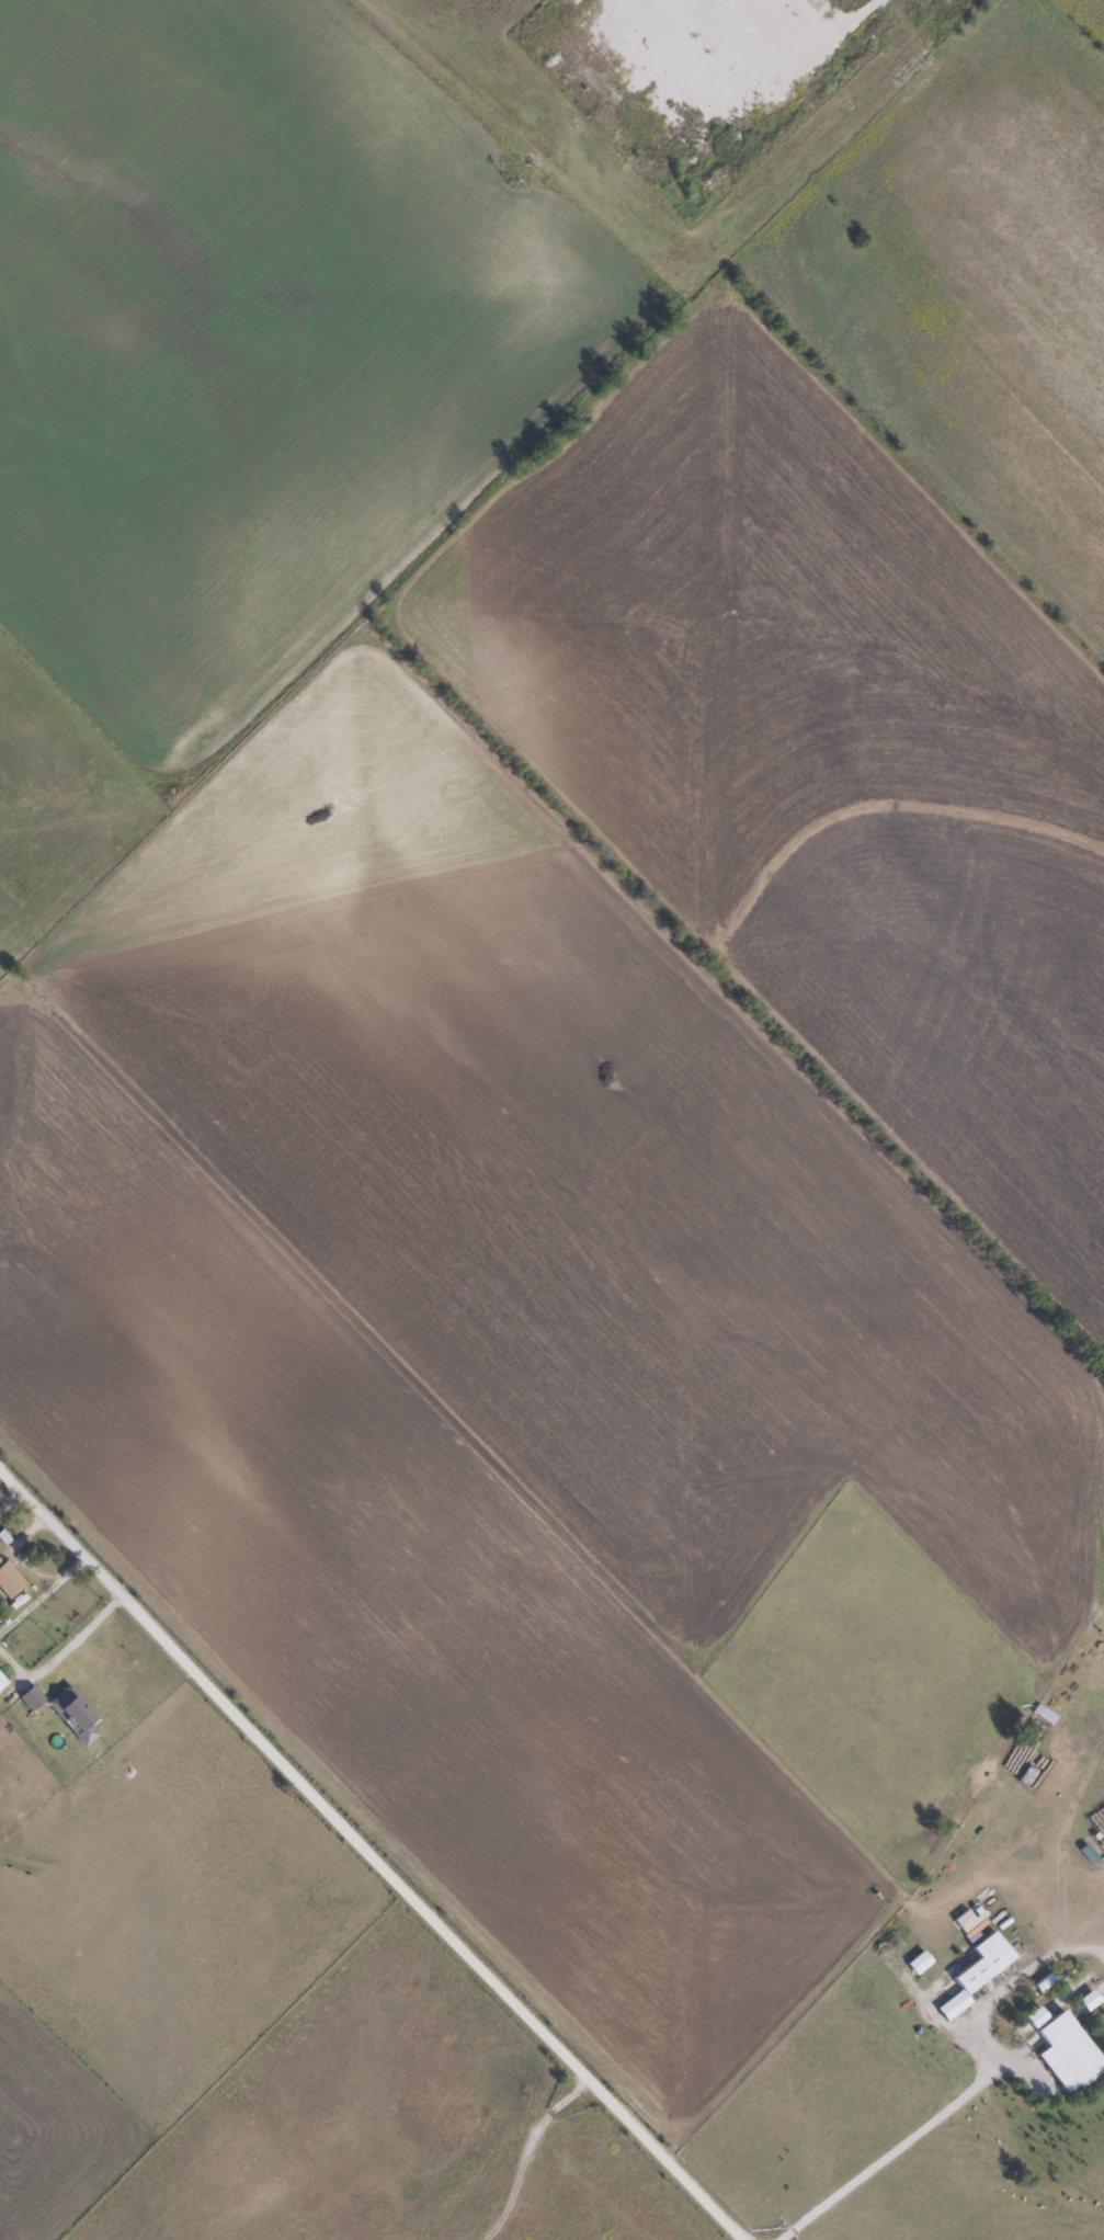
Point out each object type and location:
road: (759, 83)
building: (9, 1578)
road: (368, 1845)
building: (997, 1955)
building: (1068, 2051)
road: (966, 2094)

